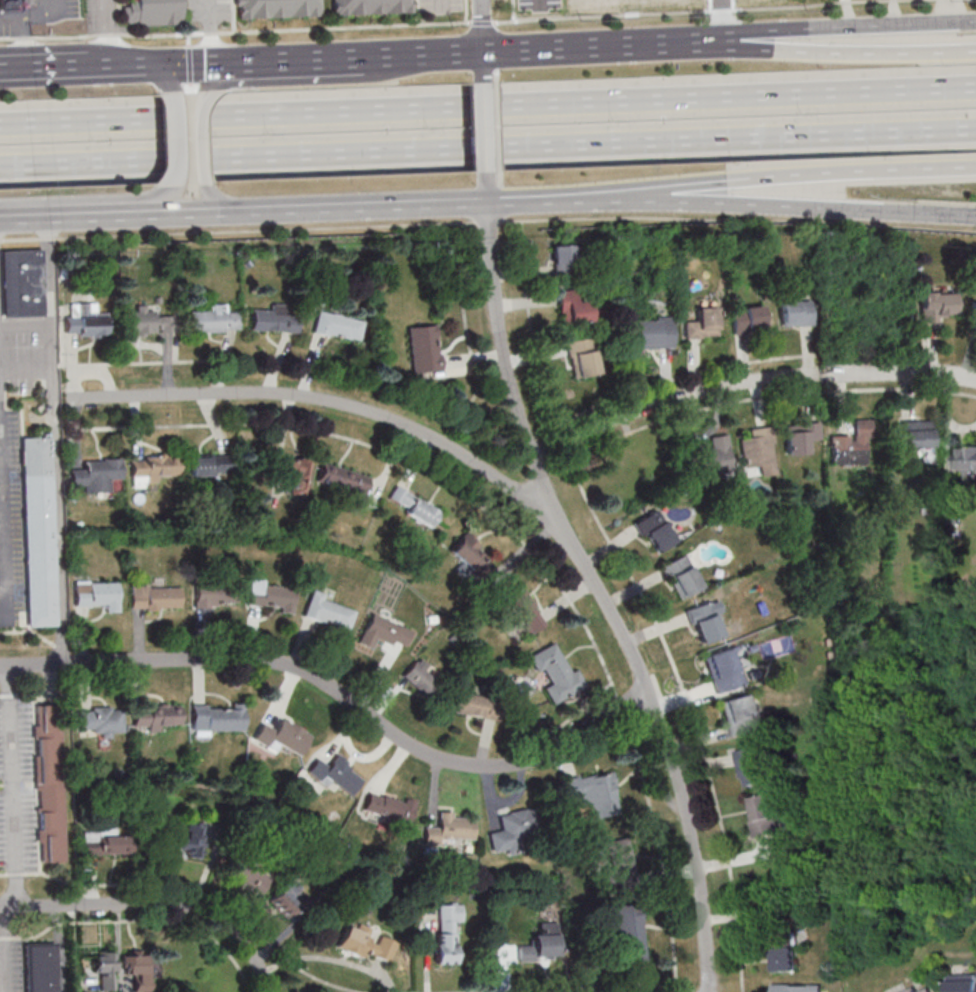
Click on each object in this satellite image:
building: (8, 4)
road: (439, 4)
parking lot: (538, 4)
building: (370, 6)
building: (275, 7)
building: (151, 11)
road: (466, 11)
road: (417, 12)
road: (233, 16)
road: (717, 16)
road: (22, 18)
road: (448, 22)
road: (482, 25)
road: (826, 27)
parking lot: (6, 29)
road: (106, 32)
road: (210, 32)
road: (23, 41)
road: (581, 47)
road: (458, 52)
road: (827, 52)
road: (328, 58)
road: (122, 64)
road: (187, 64)
road: (46, 65)
road: (483, 66)
road: (165, 76)
road: (326, 79)
road: (488, 105)
road: (486, 127)
road: (203, 136)
road: (179, 140)
road: (487, 147)
road: (785, 175)
road: (488, 187)
road: (87, 198)
road: (216, 200)
road: (542, 200)
road: (786, 205)
road: (318, 207)
road: (99, 215)
road: (24, 217)
road: (739, 218)
road: (489, 221)
road: (267, 230)
road: (49, 238)
road: (21, 239)
road: (1, 240)
building: (562, 260)
road: (49, 266)
building: (21, 283)
building: (936, 307)
building: (572, 308)
building: (795, 313)
building: (973, 313)
building: (214, 320)
building: (273, 320)
building: (746, 320)
building: (86, 321)
building: (148, 322)
building: (702, 323)
building: (337, 326)
road: (34, 331)
building: (652, 333)
road: (533, 337)
building: (423, 348)
building: (582, 357)
parking lot: (25, 360)
road: (55, 365)
road: (26, 369)
road: (824, 373)
road: (816, 374)
road: (902, 374)
road: (356, 377)
road: (0, 397)
road: (0, 401)
road: (669, 402)
road: (346, 403)
building: (916, 434)
building: (799, 441)
building: (859, 442)
building: (758, 451)
road: (393, 452)
building: (713, 460)
building: (965, 463)
building: (210, 464)
building: (155, 467)
building: (295, 472)
building: (97, 474)
building: (343, 478)
road: (57, 498)
road: (4, 500)
building: (414, 505)
building: (952, 511)
road: (599, 521)
building: (39, 529)
building: (654, 532)
building: (471, 556)
building: (681, 576)
building: (97, 594)
building: (215, 594)
building: (270, 595)
road: (601, 595)
building: (155, 597)
building: (523, 608)
building: (328, 612)
building: (704, 622)
building: (383, 632)
building: (724, 671)
building: (554, 672)
building: (423, 680)
road: (1, 695)
road: (9, 695)
road: (28, 695)
road: (340, 695)
building: (472, 704)
road: (620, 704)
road: (573, 715)
building: (156, 716)
building: (739, 716)
building: (217, 718)
building: (100, 720)
building: (281, 736)
building: (751, 766)
building: (336, 775)
building: (48, 783)
road: (14, 787)
building: (593, 792)
building: (388, 806)
building: (763, 815)
building: (449, 829)
building: (513, 832)
building: (187, 840)
building: (108, 844)
road: (658, 849)
building: (618, 859)
road: (38, 872)
road: (15, 873)
road: (4, 874)
building: (246, 875)
building: (286, 900)
road: (154, 904)
road: (228, 910)
road: (172, 919)
road: (56, 924)
building: (447, 931)
building: (630, 933)
road: (27, 936)
building: (364, 941)
building: (541, 944)
building: (784, 957)
building: (39, 967)
building: (139, 969)
building: (104, 971)
building: (962, 983)
building: (796, 988)
road: (573, 989)
building: (911, 990)
building: (926, 990)

